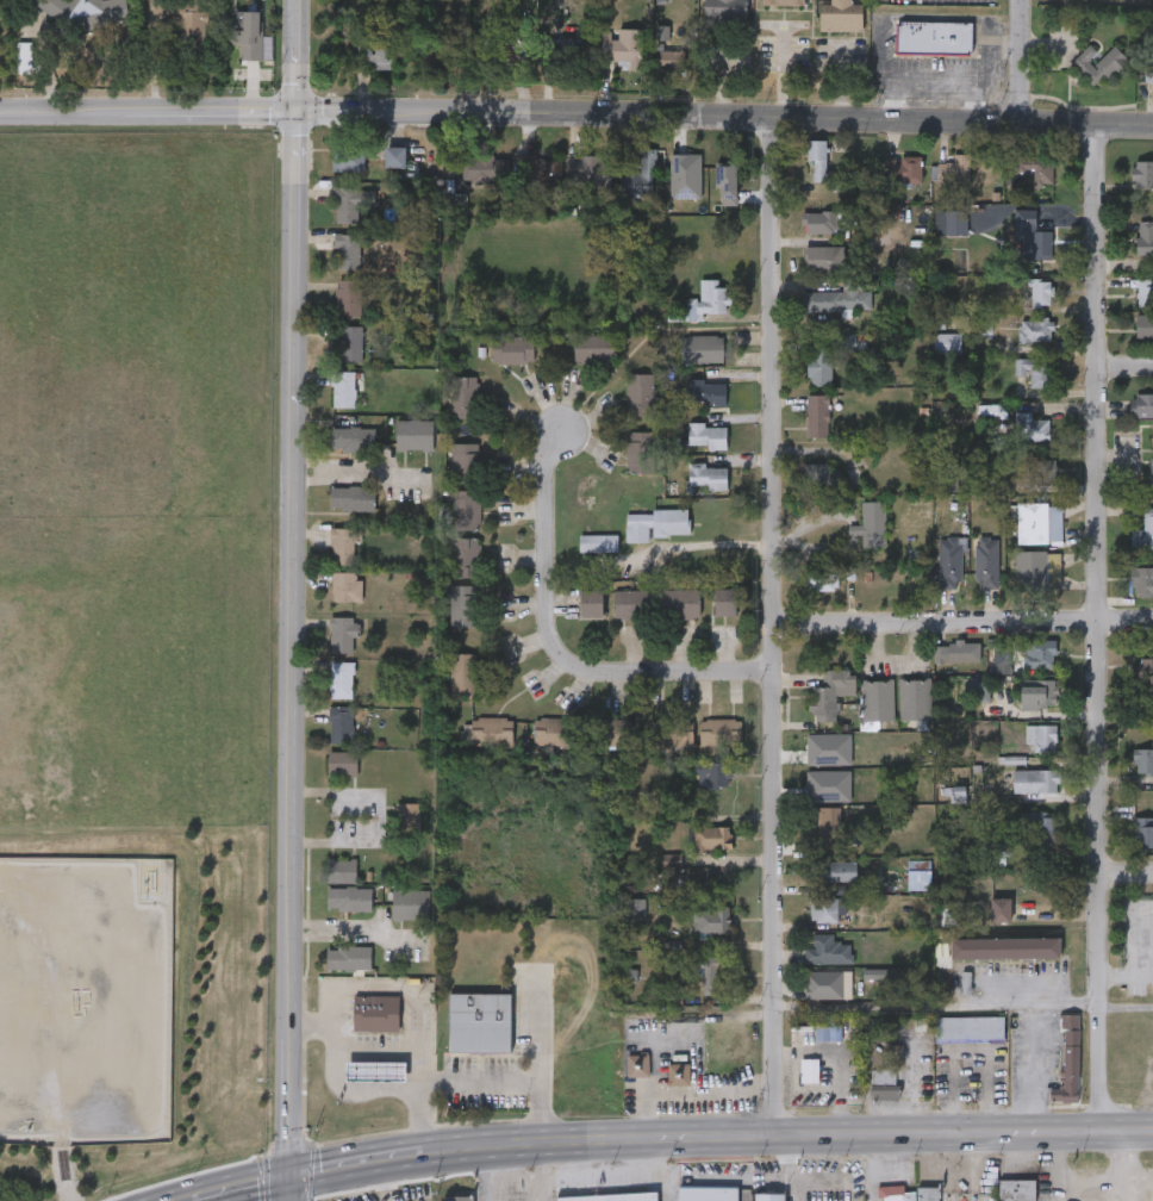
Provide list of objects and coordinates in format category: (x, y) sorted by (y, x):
building: (728, 1)
building: (784, 1)
building: (88, 11)
building: (841, 14)
building: (189, 21)
building: (247, 32)
building: (934, 36)
building: (622, 45)
building: (563, 48)
building: (378, 52)
building: (669, 60)
road: (1017, 61)
building: (1098, 62)
building: (1148, 63)
road: (784, 74)
road: (841, 81)
traffic signals: (298, 114)
road: (576, 116)
building: (395, 155)
building: (349, 156)
building: (819, 158)
building: (591, 166)
building: (482, 167)
building: (911, 167)
building: (953, 167)
building: (1037, 168)
building: (535, 169)
building: (989, 169)
building: (641, 172)
building: (1143, 173)
building: (717, 188)
building: (353, 200)
building: (958, 219)
building: (822, 220)
building: (1033, 235)
building: (1146, 236)
building: (349, 249)
building: (827, 256)
building: (1043, 290)
building: (1146, 292)
building: (351, 295)
building: (840, 297)
building: (704, 300)
building: (1145, 323)
building: (1037, 328)
building: (947, 341)
building: (350, 342)
building: (596, 347)
building: (704, 347)
building: (516, 348)
road: (1124, 362)
building: (821, 366)
building: (1037, 369)
building: (345, 388)
building: (708, 391)
building: (642, 393)
building: (466, 397)
building: (1142, 405)
building: (819, 415)
building: (1032, 427)
building: (417, 434)
building: (709, 435)
building: (354, 436)
building: (641, 450)
building: (465, 461)
building: (1045, 468)
road: (393, 469)
building: (822, 472)
building: (1152, 473)
building: (709, 474)
building: (353, 497)
building: (466, 508)
building: (1057, 521)
building: (657, 522)
building: (877, 523)
building: (1143, 534)
building: (599, 541)
building: (344, 543)
road: (700, 545)
building: (465, 555)
building: (952, 561)
building: (989, 561)
building: (1034, 570)
building: (822, 578)
building: (1142, 580)
building: (347, 584)
road: (289, 589)
building: (463, 603)
building: (724, 606)
building: (688, 608)
road: (961, 612)
road: (772, 627)
road: (1102, 627)
building: (343, 634)
road: (553, 651)
building: (954, 652)
building: (1041, 653)
building: (1003, 656)
building: (1146, 672)
building: (463, 673)
building: (343, 679)
building: (979, 691)
building: (831, 693)
building: (915, 698)
building: (878, 699)
building: (342, 723)
building: (492, 729)
building: (556, 730)
building: (619, 730)
building: (722, 730)
building: (673, 732)
building: (1042, 735)
building: (1143, 760)
building: (343, 761)
building: (715, 773)
building: (1037, 780)
road: (380, 815)
building: (1040, 823)
building: (827, 826)
building: (1145, 832)
building: (712, 839)
building: (835, 870)
building: (921, 878)
road: (1126, 880)
building: (347, 885)
building: (412, 903)
building: (637, 908)
building: (827, 909)
building: (1002, 909)
building: (713, 919)
road: (350, 929)
building: (1006, 948)
building: (829, 950)
building: (349, 957)
road: (1126, 971)
building: (713, 975)
building: (825, 983)
road: (403, 988)
road: (908, 1004)
road: (1126, 1004)
building: (378, 1012)
building: (481, 1021)
building: (971, 1028)
road: (1037, 1039)
road: (71, 1047)
building: (1071, 1062)
building: (638, 1063)
building: (811, 1070)
building: (680, 1074)
road: (335, 1076)
road: (472, 1078)
building: (885, 1083)
road: (787, 1137)
road: (355, 1166)
road: (537, 1174)
road: (494, 1175)
traffic signals: (288, 1178)
road: (379, 1182)
road: (239, 1189)
road: (288, 1189)
building: (1018, 1190)
building: (709, 1194)
building: (910, 1194)
building: (610, 1196)
building: (457, 1197)
building: (771, 1197)

